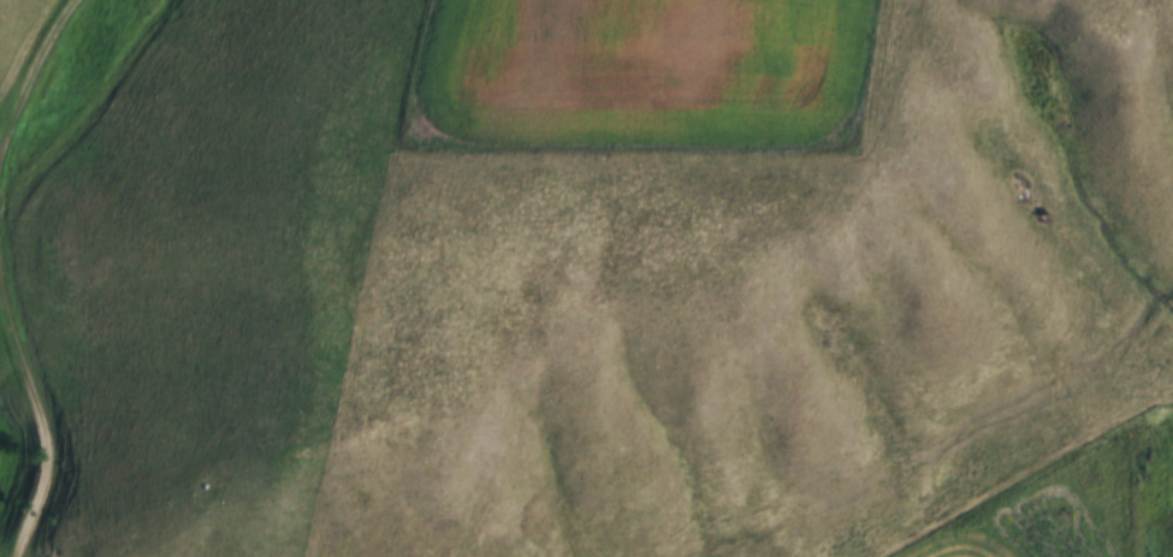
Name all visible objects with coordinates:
road: (26, 85)
road: (40, 404)

